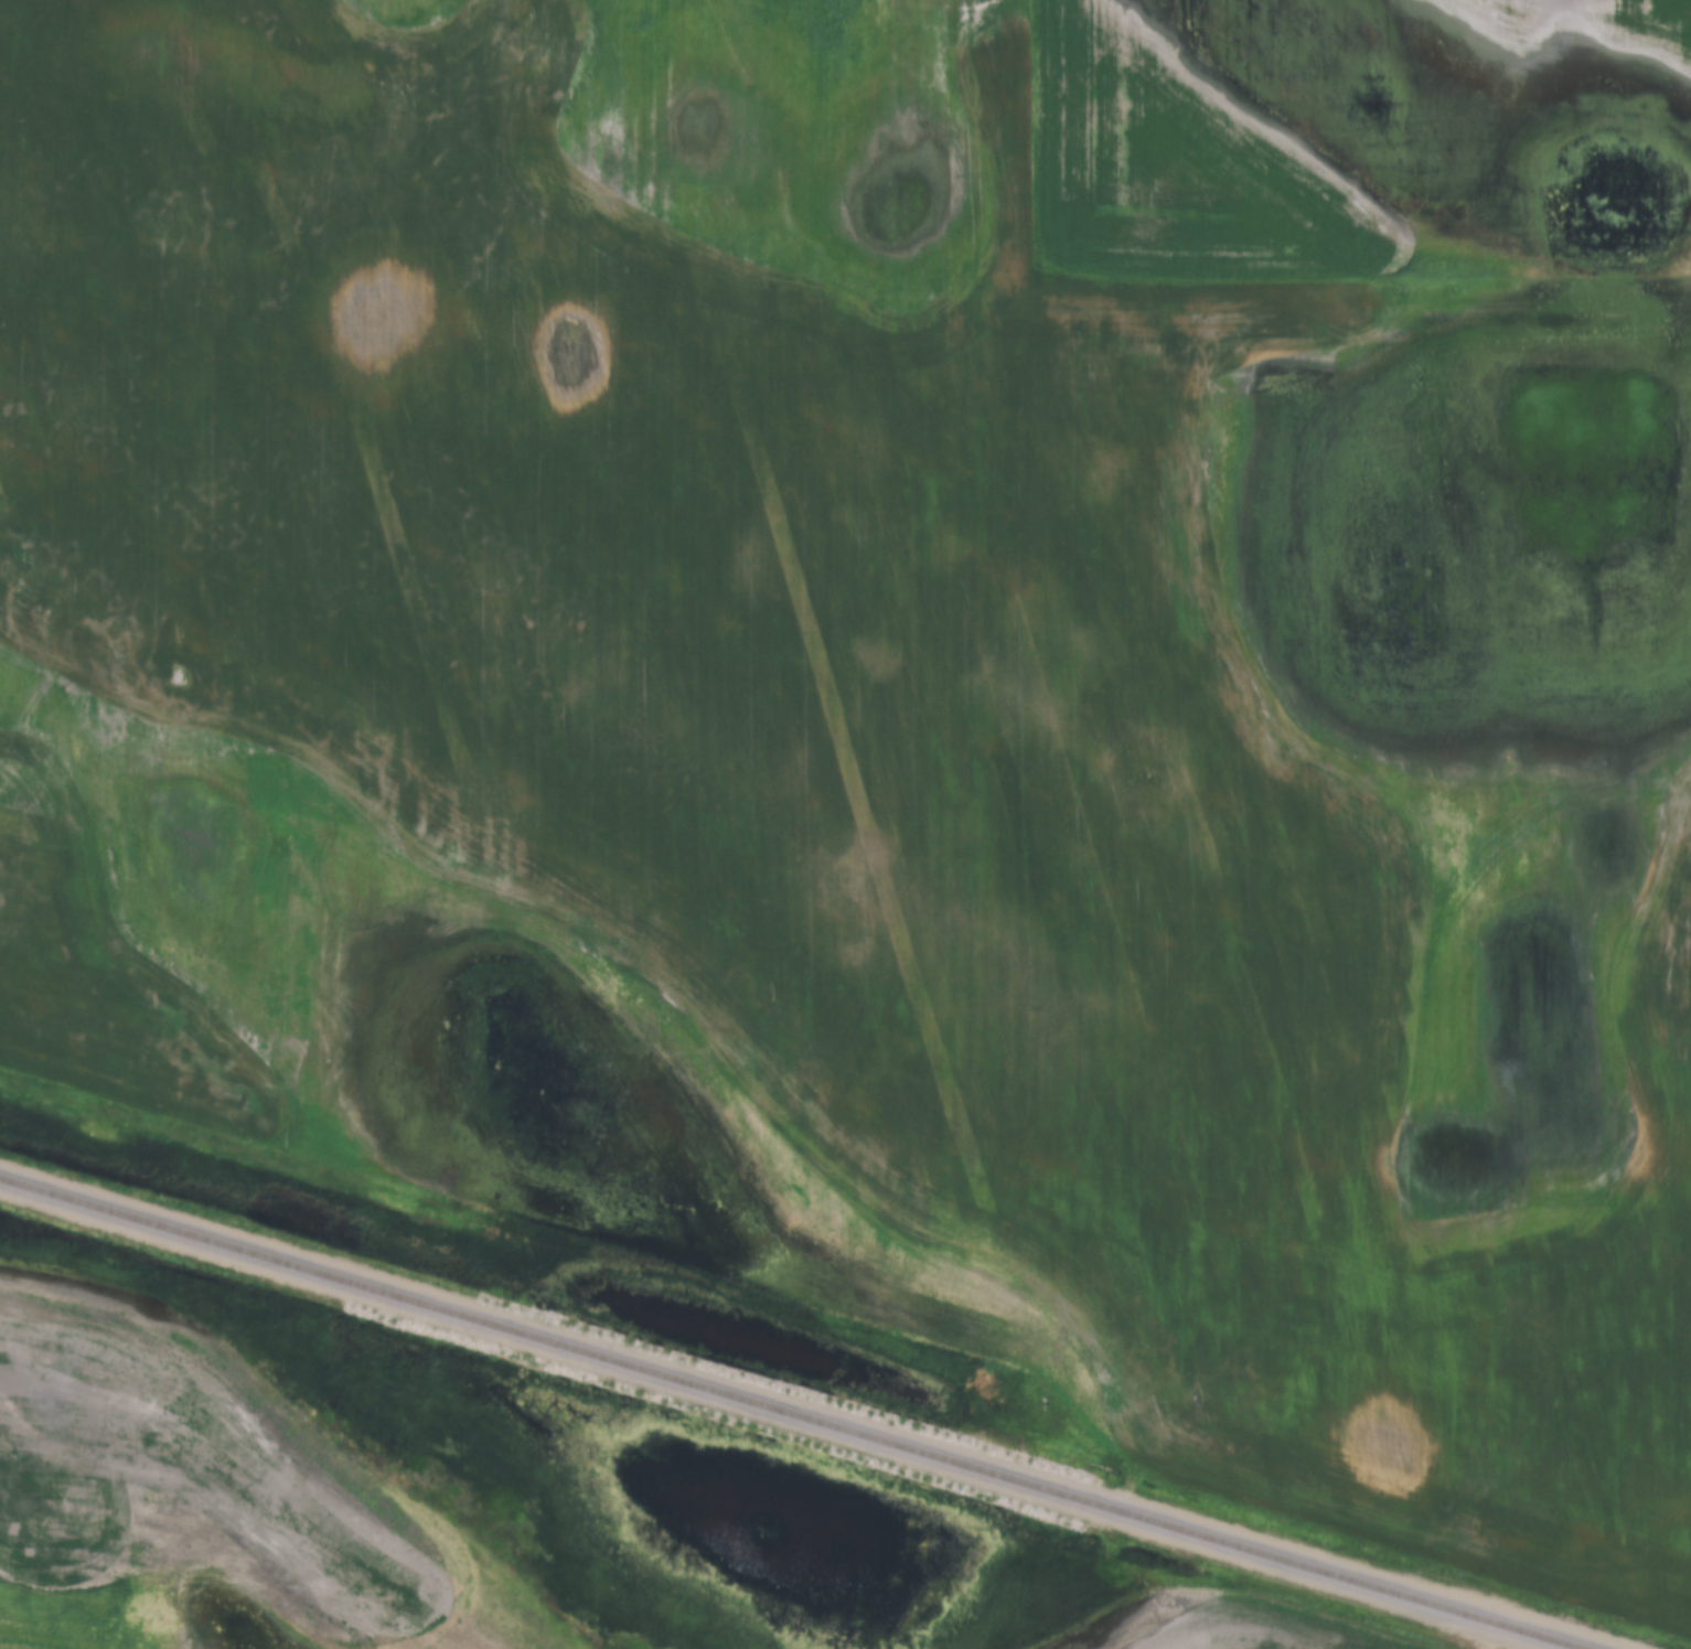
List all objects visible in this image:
railway: (786, 1414)

